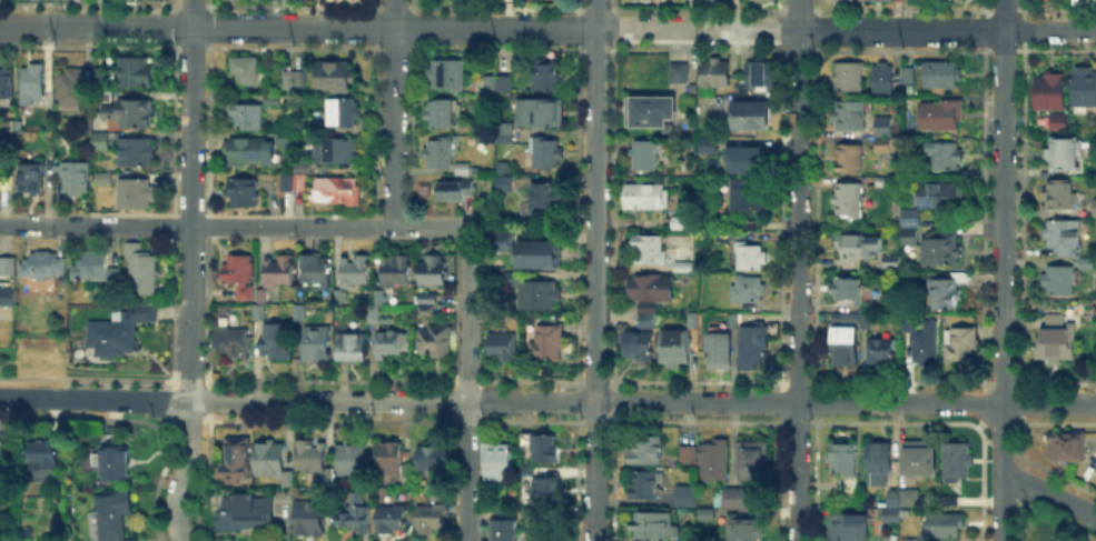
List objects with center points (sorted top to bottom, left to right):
park: (66, 0)
building: (840, 0)
building: (866, 0)
building: (715, 1)
building: (757, 1)
building: (879, 1)
road: (547, 28)
building: (249, 71)
building: (135, 72)
building: (680, 74)
building: (715, 74)
building: (101, 76)
building: (448, 76)
building: (546, 76)
building: (944, 76)
building: (759, 77)
building: (848, 77)
building: (909, 77)
building: (335, 78)
building: (883, 80)
building: (295, 81)
building: (7, 83)
building: (32, 84)
building: (492, 88)
building: (1084, 88)
building: (71, 89)
building: (1049, 91)
building: (106, 98)
building: (273, 98)
building: (537, 112)
building: (650, 112)
building: (129, 113)
building: (339, 113)
road: (393, 113)
building: (442, 116)
building: (847, 116)
building: (752, 117)
building: (941, 117)
building: (247, 118)
building: (1059, 123)
building: (306, 127)
building: (505, 134)
building: (882, 136)
building: (286, 140)
building: (99, 142)
building: (705, 146)
building: (335, 151)
building: (248, 152)
building: (136, 153)
building: (440, 153)
building: (648, 153)
building: (1065, 154)
building: (549, 156)
building: (948, 157)
building: (740, 159)
building: (850, 160)
building: (504, 166)
building: (1094, 169)
building: (464, 170)
building: (30, 179)
building: (77, 179)
building: (296, 179)
building: (669, 179)
building: (506, 184)
building: (336, 190)
building: (452, 191)
building: (136, 196)
building: (245, 196)
building: (646, 196)
building: (938, 196)
building: (1062, 196)
building: (750, 197)
building: (546, 199)
road: (191, 200)
building: (848, 201)
building: (1095, 210)
building: (912, 217)
road: (233, 226)
building: (754, 227)
building: (909, 238)
building: (1065, 239)
building: (500, 241)
building: (859, 247)
building: (649, 249)
building: (940, 252)
building: (537, 254)
building: (750, 257)
building: (891, 262)
building: (49, 264)
building: (1087, 266)
building: (92, 267)
building: (682, 267)
building: (7, 268)
building: (240, 269)
building: (395, 269)
road: (595, 270)
road: (797, 270)
road: (1001, 270)
building: (140, 271)
building: (316, 271)
building: (354, 271)
building: (280, 272)
building: (433, 273)
building: (511, 278)
building: (1059, 281)
building: (651, 289)
building: (748, 290)
building: (848, 290)
building: (946, 291)
building: (6, 294)
building: (245, 294)
building: (541, 295)
building: (339, 298)
building: (426, 298)
building: (379, 299)
building: (148, 312)
building: (426, 313)
building: (299, 314)
building: (371, 314)
building: (649, 322)
building: (866, 322)
building: (115, 338)
building: (843, 339)
building: (234, 341)
building: (924, 341)
building: (1058, 341)
building: (276, 342)
building: (435, 343)
building: (317, 344)
building: (389, 344)
building: (503, 345)
building: (675, 345)
building: (547, 347)
building: (639, 347)
building: (720, 347)
building: (961, 347)
building: (353, 348)
building: (754, 348)
building: (881, 352)
road: (466, 383)
road: (547, 401)
building: (1067, 448)
building: (545, 449)
building: (649, 452)
building: (49, 453)
building: (843, 457)
building: (2, 458)
building: (237, 459)
building: (435, 459)
building: (756, 459)
building: (920, 459)
building: (270, 460)
building: (709, 460)
building: (957, 460)
building: (312, 461)
building: (350, 461)
building: (391, 461)
building: (498, 461)
building: (115, 463)
building: (879, 463)
road: (186, 472)
building: (644, 484)
building: (545, 485)
road: (1049, 494)
building: (687, 497)
building: (904, 497)
building: (738, 499)
building: (247, 509)
building: (352, 509)
building: (500, 512)
building: (113, 515)
building: (708, 517)
building: (433, 518)
building: (889, 518)
building: (393, 519)
building: (309, 520)
building: (655, 524)
building: (506, 527)
building: (945, 527)
building: (847, 529)
building: (744, 531)
building: (910, 540)

